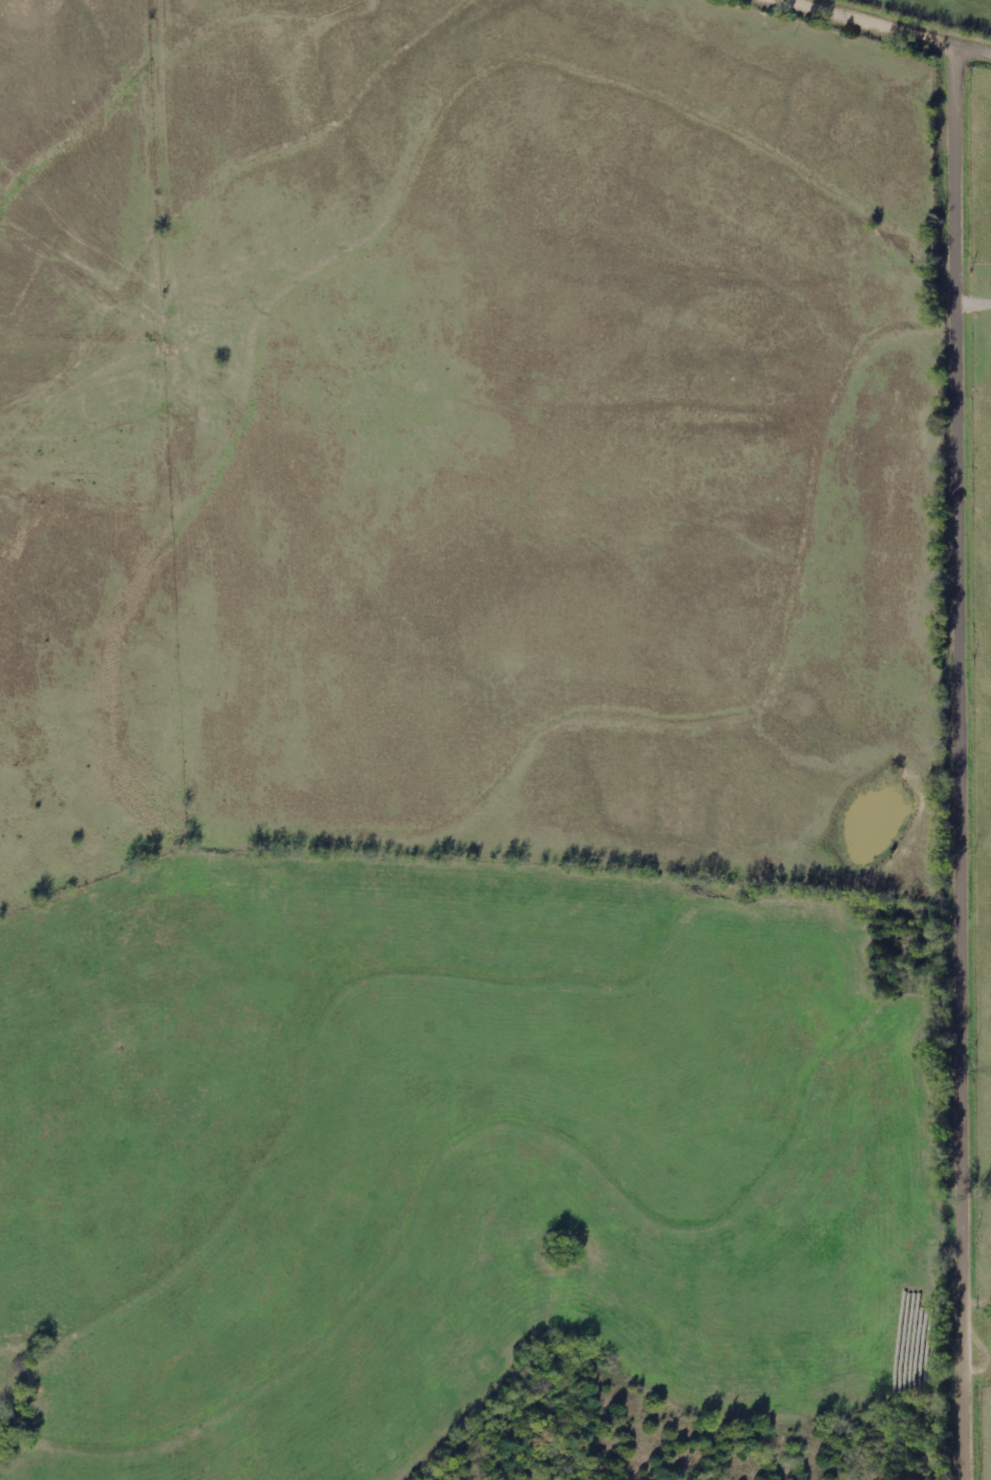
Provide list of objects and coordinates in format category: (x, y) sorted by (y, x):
road: (886, 28)
road: (968, 765)

